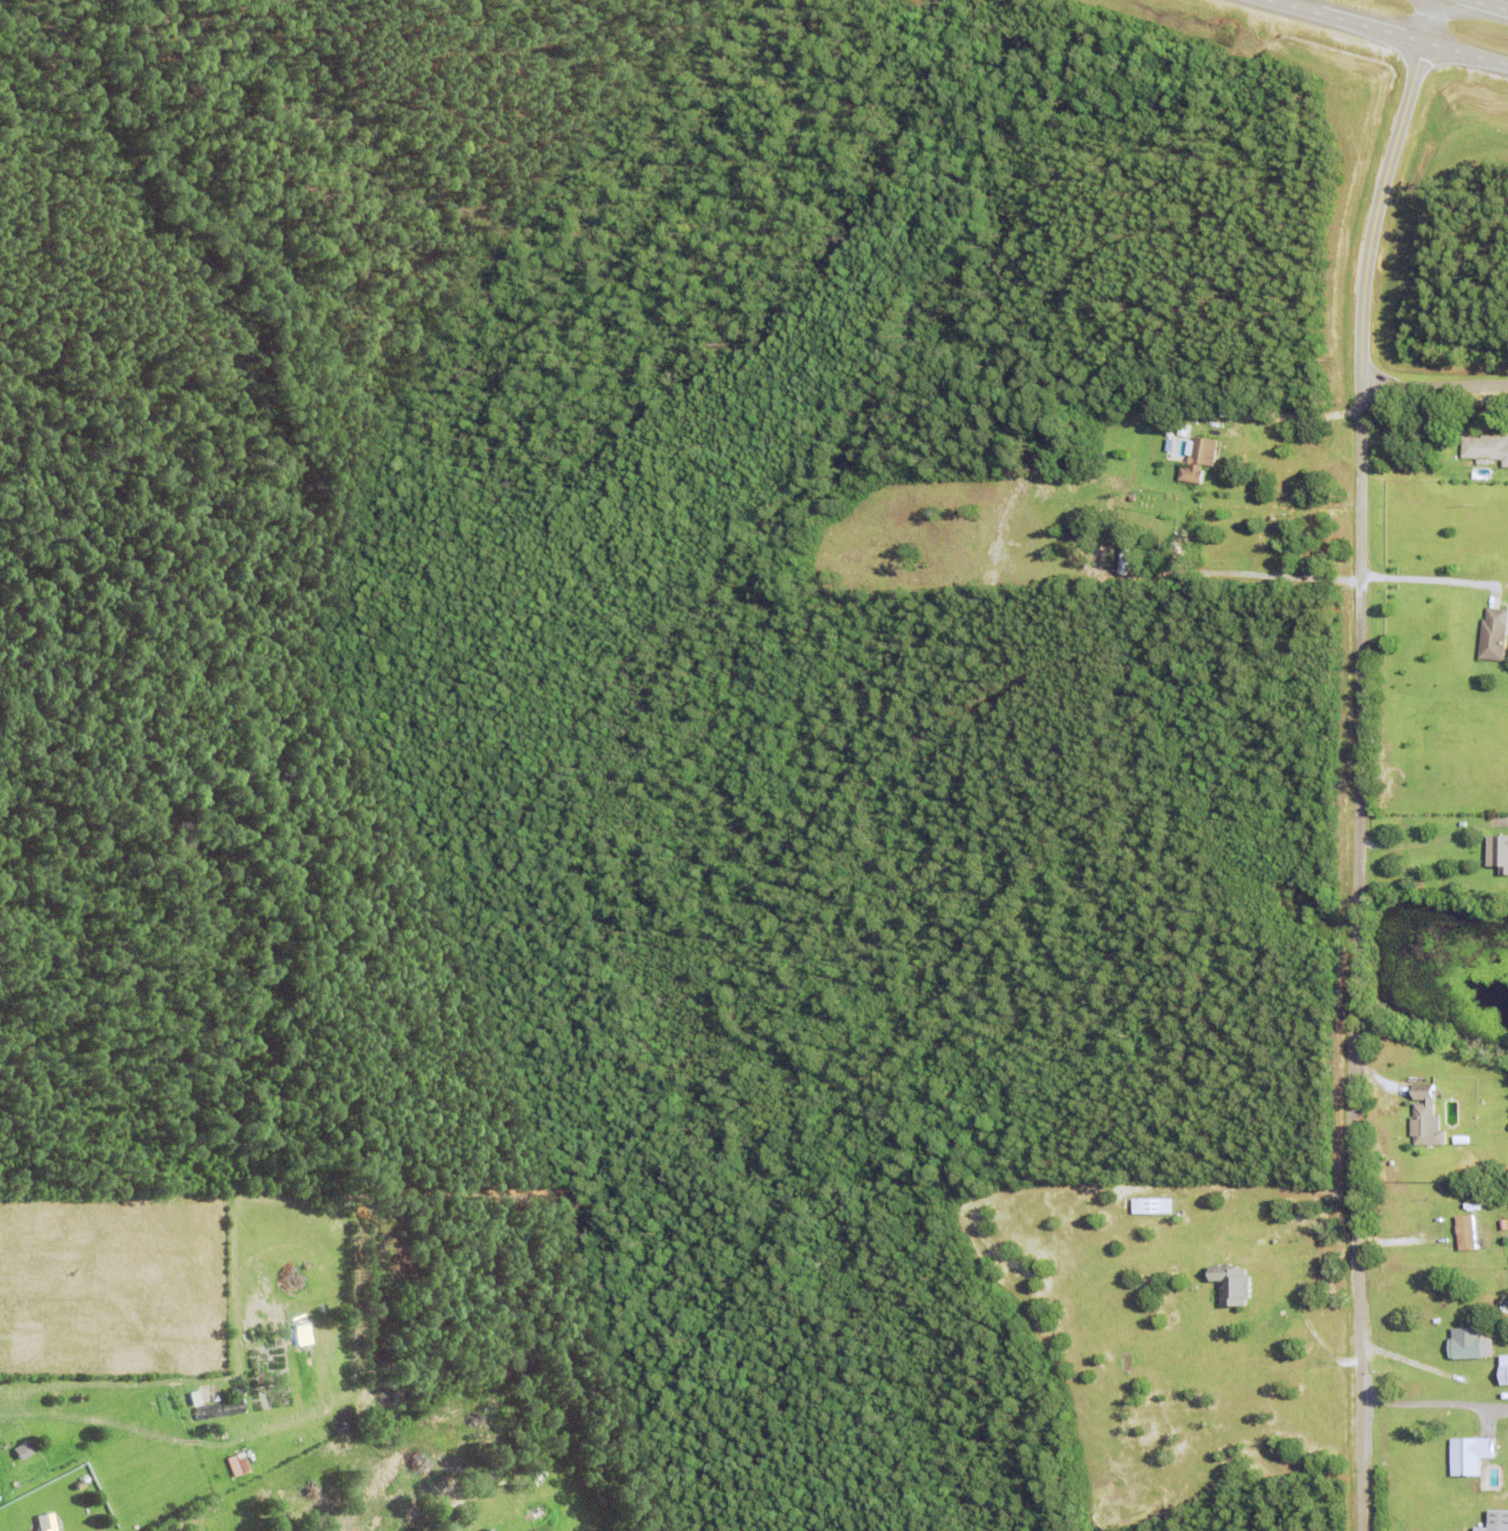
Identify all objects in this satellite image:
road: (1488, 5)
road: (1390, 33)
road: (1381, 190)
road: (1272, 412)
building: (1485, 447)
building: (1199, 458)
building: (1179, 552)
road: (1428, 575)
building: (1494, 633)
building: (1498, 851)
road: (1361, 886)
building: (1426, 1121)
building: (1426, 1158)
building: (1148, 1205)
building: (1467, 1233)
building: (1229, 1284)
building: (1283, 1286)
building: (1504, 1309)
building: (1470, 1347)
road: (1420, 1363)
building: (1503, 1374)
road: (1429, 1408)
building: (24, 1451)
building: (1471, 1455)
building: (237, 1465)
building: (81, 1485)
building: (1497, 1521)
building: (46, 1530)
building: (489, 1530)

